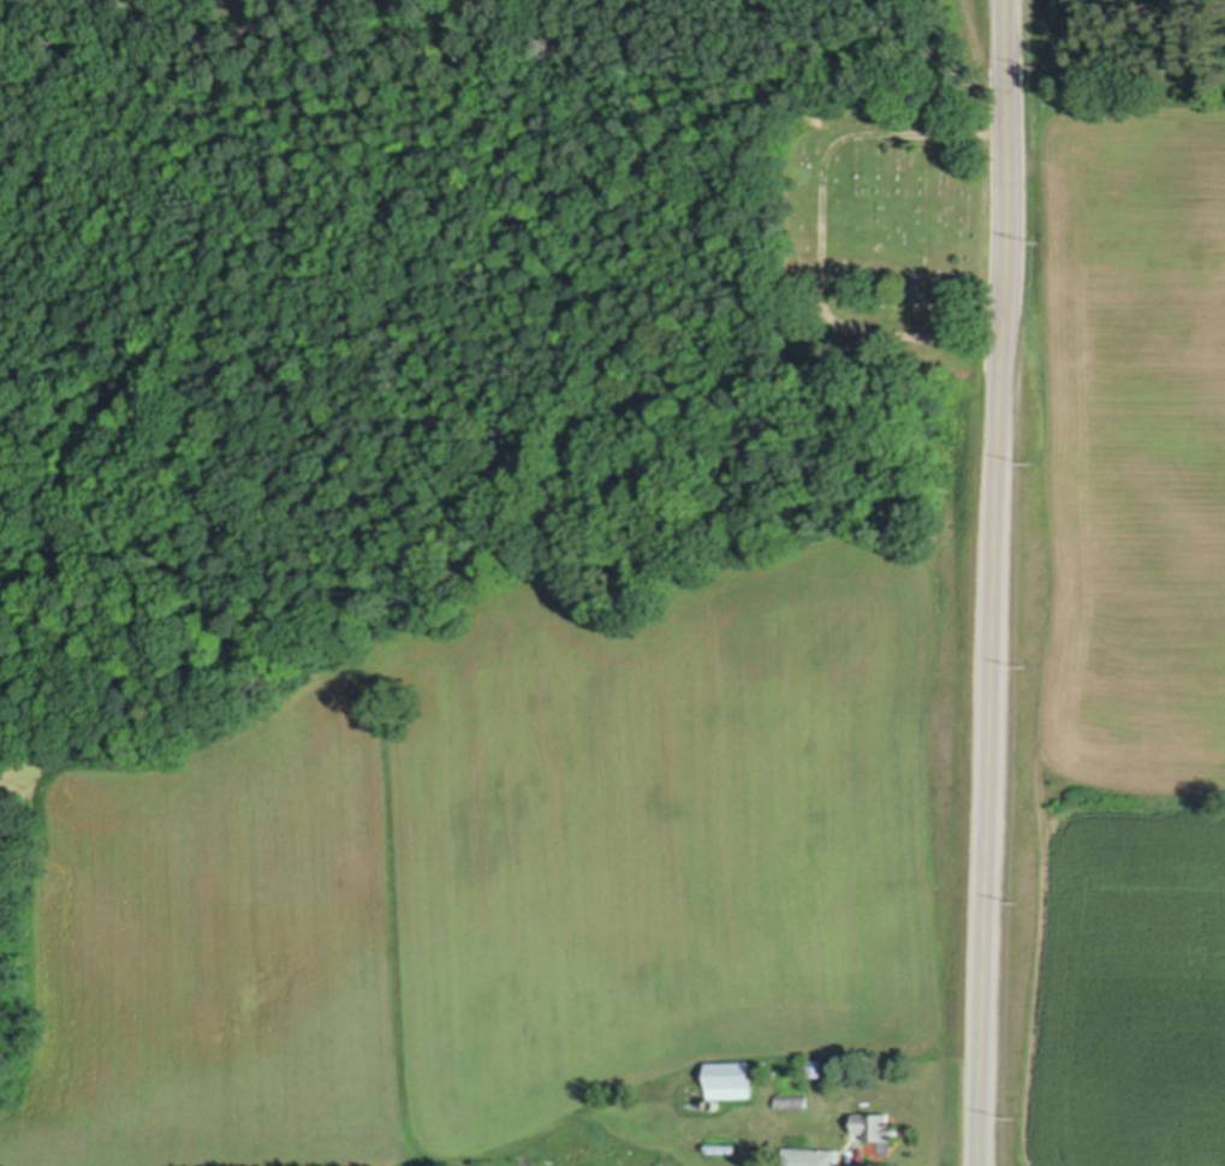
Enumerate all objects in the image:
park: (887, 226)
road: (827, 227)
road: (1000, 583)
building: (815, 1065)
building: (761, 1067)
building: (732, 1077)
building: (793, 1099)
building: (715, 1101)
building: (876, 1124)
building: (724, 1146)
building: (811, 1155)

